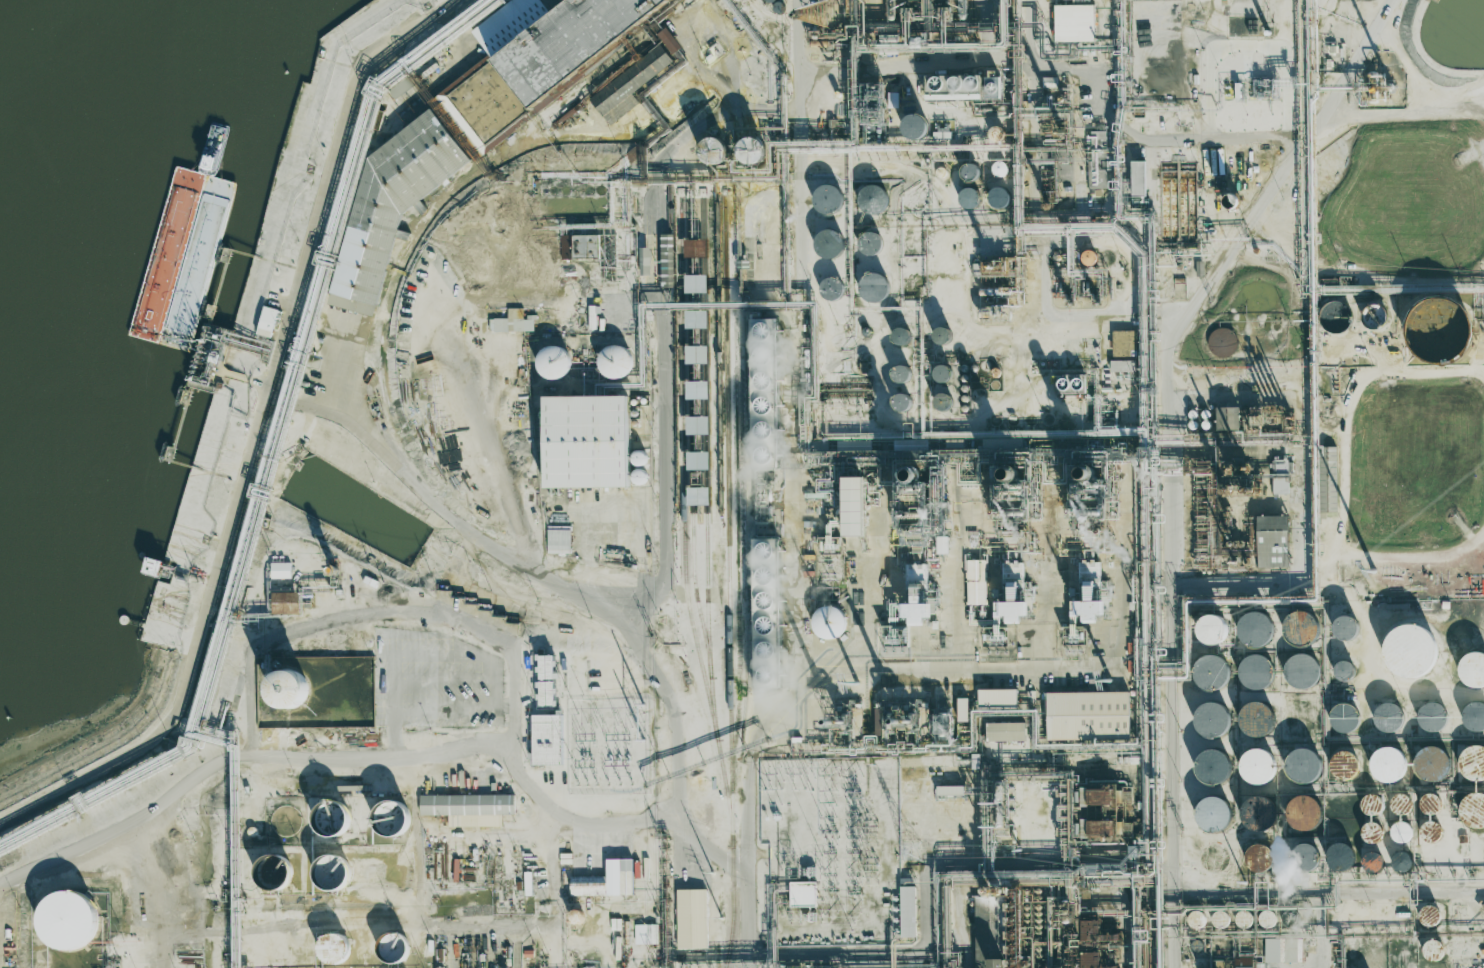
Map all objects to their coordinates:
building: (1074, 22)
building: (669, 40)
building: (537, 56)
river: (91, 77)
building: (632, 84)
building: (954, 87)
road: (1402, 104)
building: (915, 126)
building: (996, 134)
building: (1098, 140)
building: (714, 150)
building: (752, 150)
building: (999, 168)
building: (971, 172)
building: (1138, 178)
building: (827, 199)
building: (872, 199)
building: (392, 200)
building: (871, 243)
building: (829, 244)
building: (579, 246)
building: (1088, 257)
building: (645, 261)
building: (696, 283)
building: (873, 287)
road: (795, 297)
building: (362, 308)
building: (1376, 317)
building: (697, 319)
building: (267, 321)
building: (513, 322)
building: (1222, 342)
railway: (381, 347)
road: (662, 351)
building: (1124, 351)
building: (697, 354)
building: (615, 361)
building: (553, 362)
building: (1070, 384)
building: (697, 389)
building: (764, 391)
building: (902, 401)
building: (1228, 418)
building: (698, 425)
railway: (705, 435)
building: (586, 441)
road: (1167, 450)
road: (397, 460)
building: (698, 460)
railway: (691, 466)
chimney: (1089, 467)
chimney: (1012, 469)
chimney: (914, 470)
building: (1280, 477)
building: (1329, 481)
building: (699, 496)
building: (854, 506)
railway: (727, 518)
railway: (684, 520)
building: (559, 541)
building: (1273, 541)
building: (281, 570)
power tower: (1372, 572)
power plant: (930, 578)
road: (814, 581)
building: (976, 582)
building: (1090, 590)
building: (286, 603)
road: (223, 610)
building: (767, 610)
building: (1014, 610)
building: (916, 613)
building: (828, 622)
building: (1302, 627)
building: (1345, 627)
building: (1212, 629)
building: (1255, 629)
building: (1410, 650)
building: (546, 666)
building: (1301, 670)
building: (1472, 670)
building: (1211, 672)
building: (1255, 672)
power tower: (1110, 680)
power tower: (855, 682)
building: (288, 689)
building: (997, 696)
power tower: (643, 704)
building: (1088, 716)
building: (1474, 716)
building: (1344, 717)
building: (1432, 717)
chimney: (831, 719)
chimney: (900, 719)
building: (1212, 719)
building: (1256, 719)
building: (1005, 731)
building: (547, 739)
power substation: (608, 745)
road: (339, 756)
building: (1472, 762)
building: (1433, 763)
building: (1343, 764)
building: (1387, 764)
building: (1303, 765)
building: (1213, 766)
building: (1257, 766)
road: (836, 775)
road: (674, 802)
building: (1372, 804)
building: (1400, 804)
building: (330, 807)
storage tank: (330, 807)
building: (389, 808)
storage tank: (389, 808)
building: (469, 808)
building: (1472, 810)
building: (1257, 812)
building: (1304, 812)
building: (1213, 814)
building: (1401, 832)
power substation: (834, 850)
building: (1258, 857)
building: (1372, 862)
road: (424, 878)
building: (606, 880)
road: (1162, 887)
road: (157, 894)
building: (803, 894)
railway: (732, 906)
building: (64, 909)
storage tank: (64, 909)
building: (907, 911)
building: (1429, 915)
building: (576, 917)
building: (1195, 917)
building: (691, 919)
road: (316, 922)
road: (980, 929)
building: (990, 931)
building: (646, 934)
building: (333, 947)
building: (394, 947)
building: (1272, 950)
building: (1434, 950)

